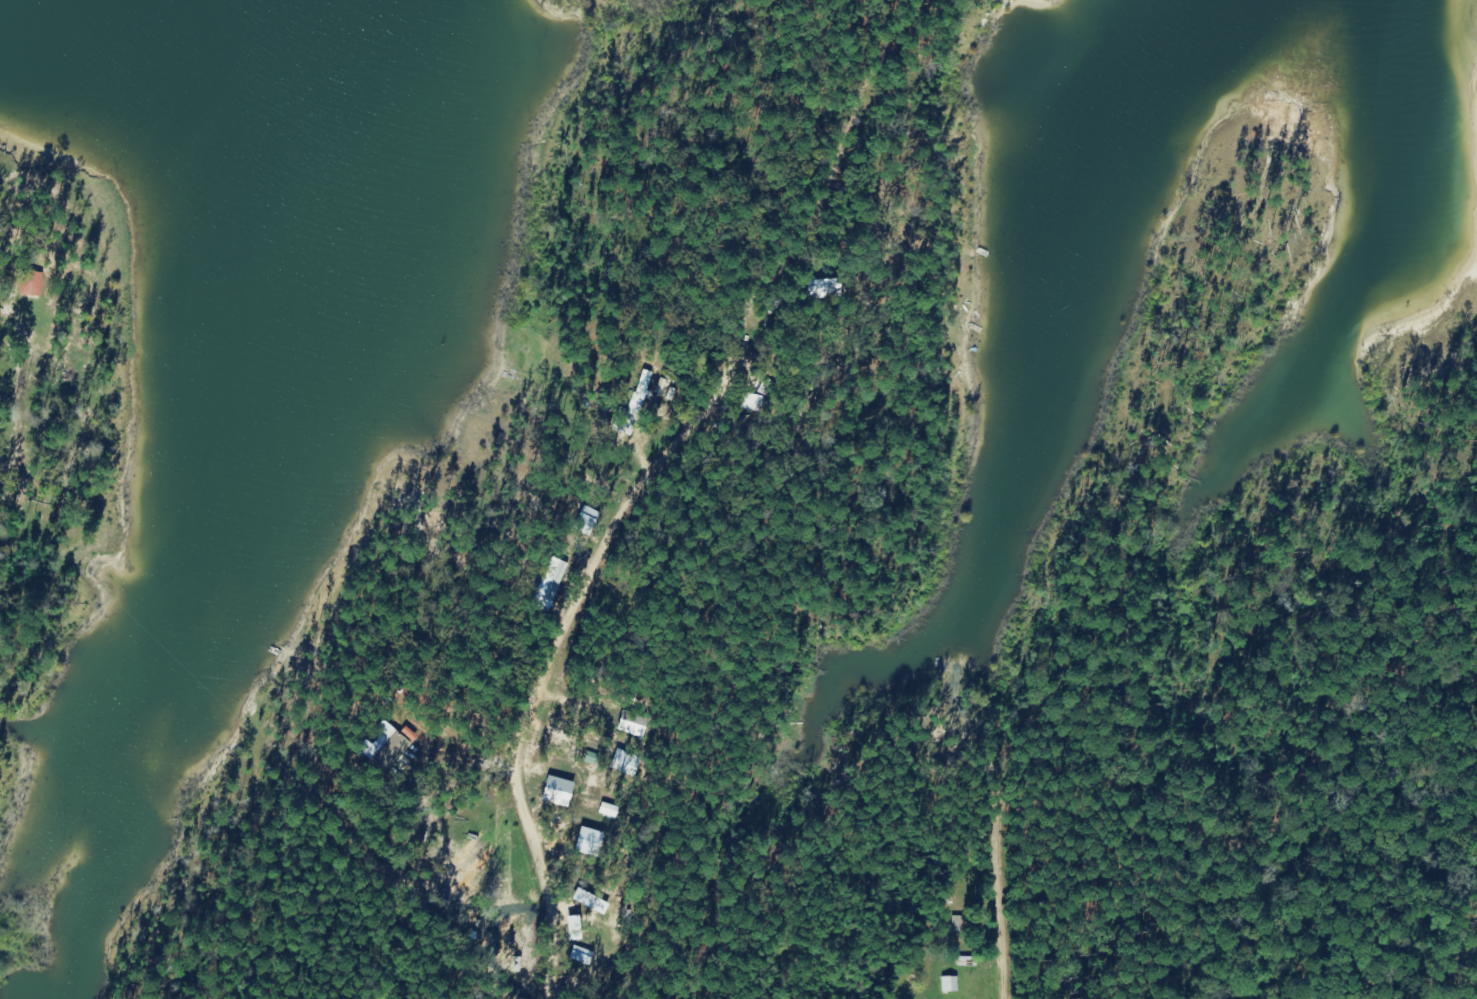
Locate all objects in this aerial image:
building: (33, 283)
road: (706, 501)
building: (553, 585)
building: (635, 725)
building: (397, 752)
building: (628, 762)
building: (558, 791)
building: (590, 841)
road: (1004, 885)
building: (952, 983)

